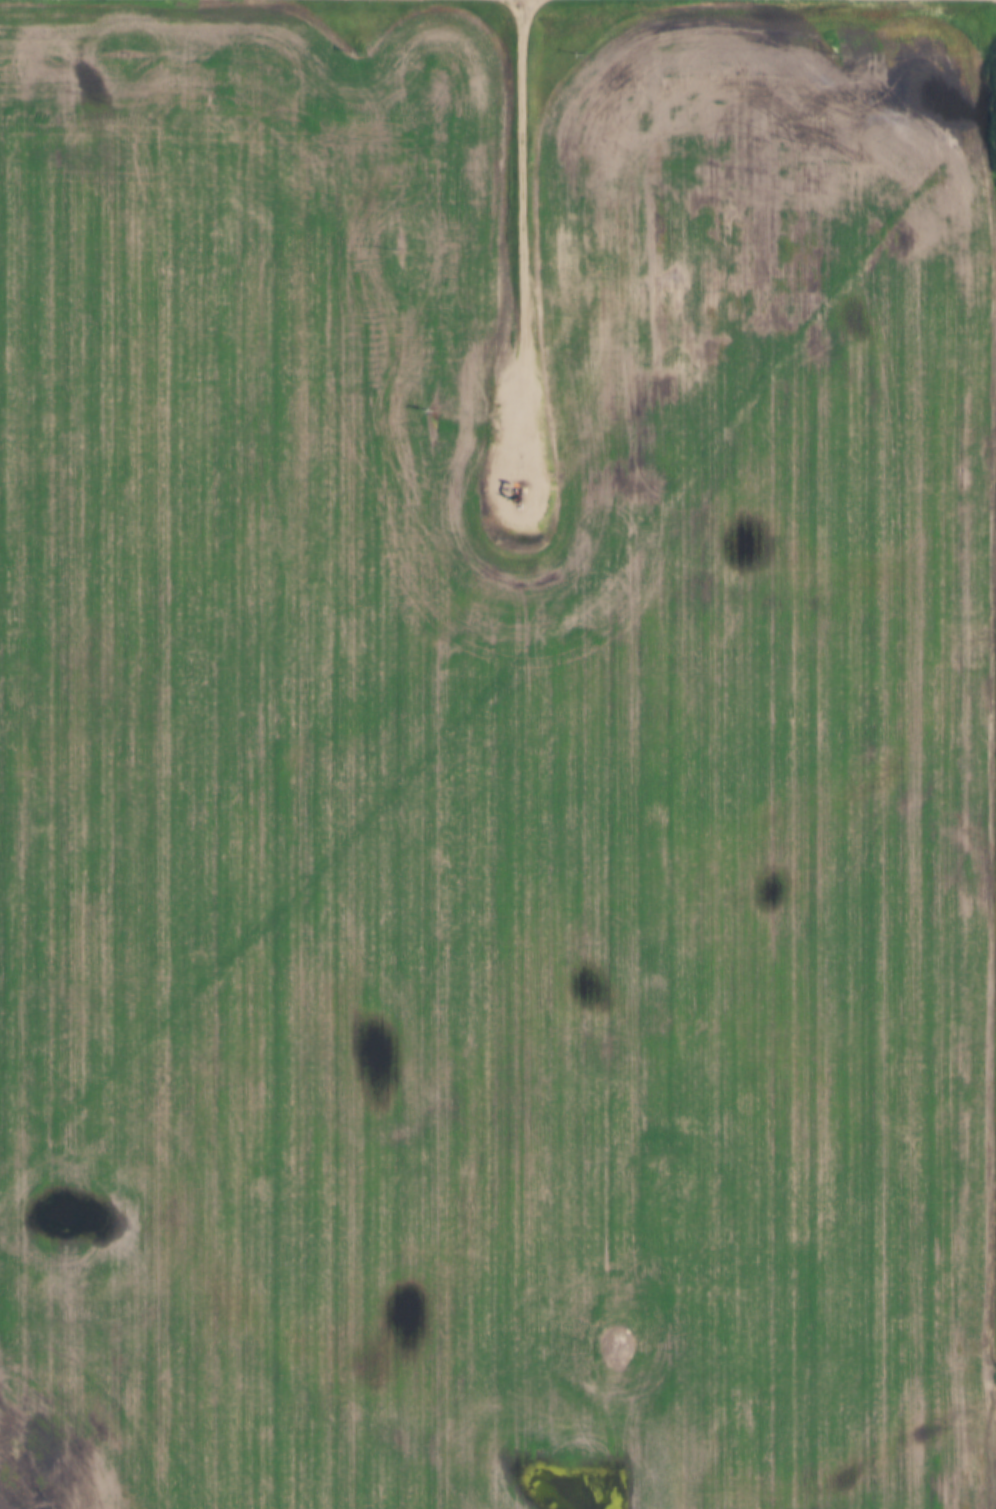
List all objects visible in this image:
road: (526, 230)

